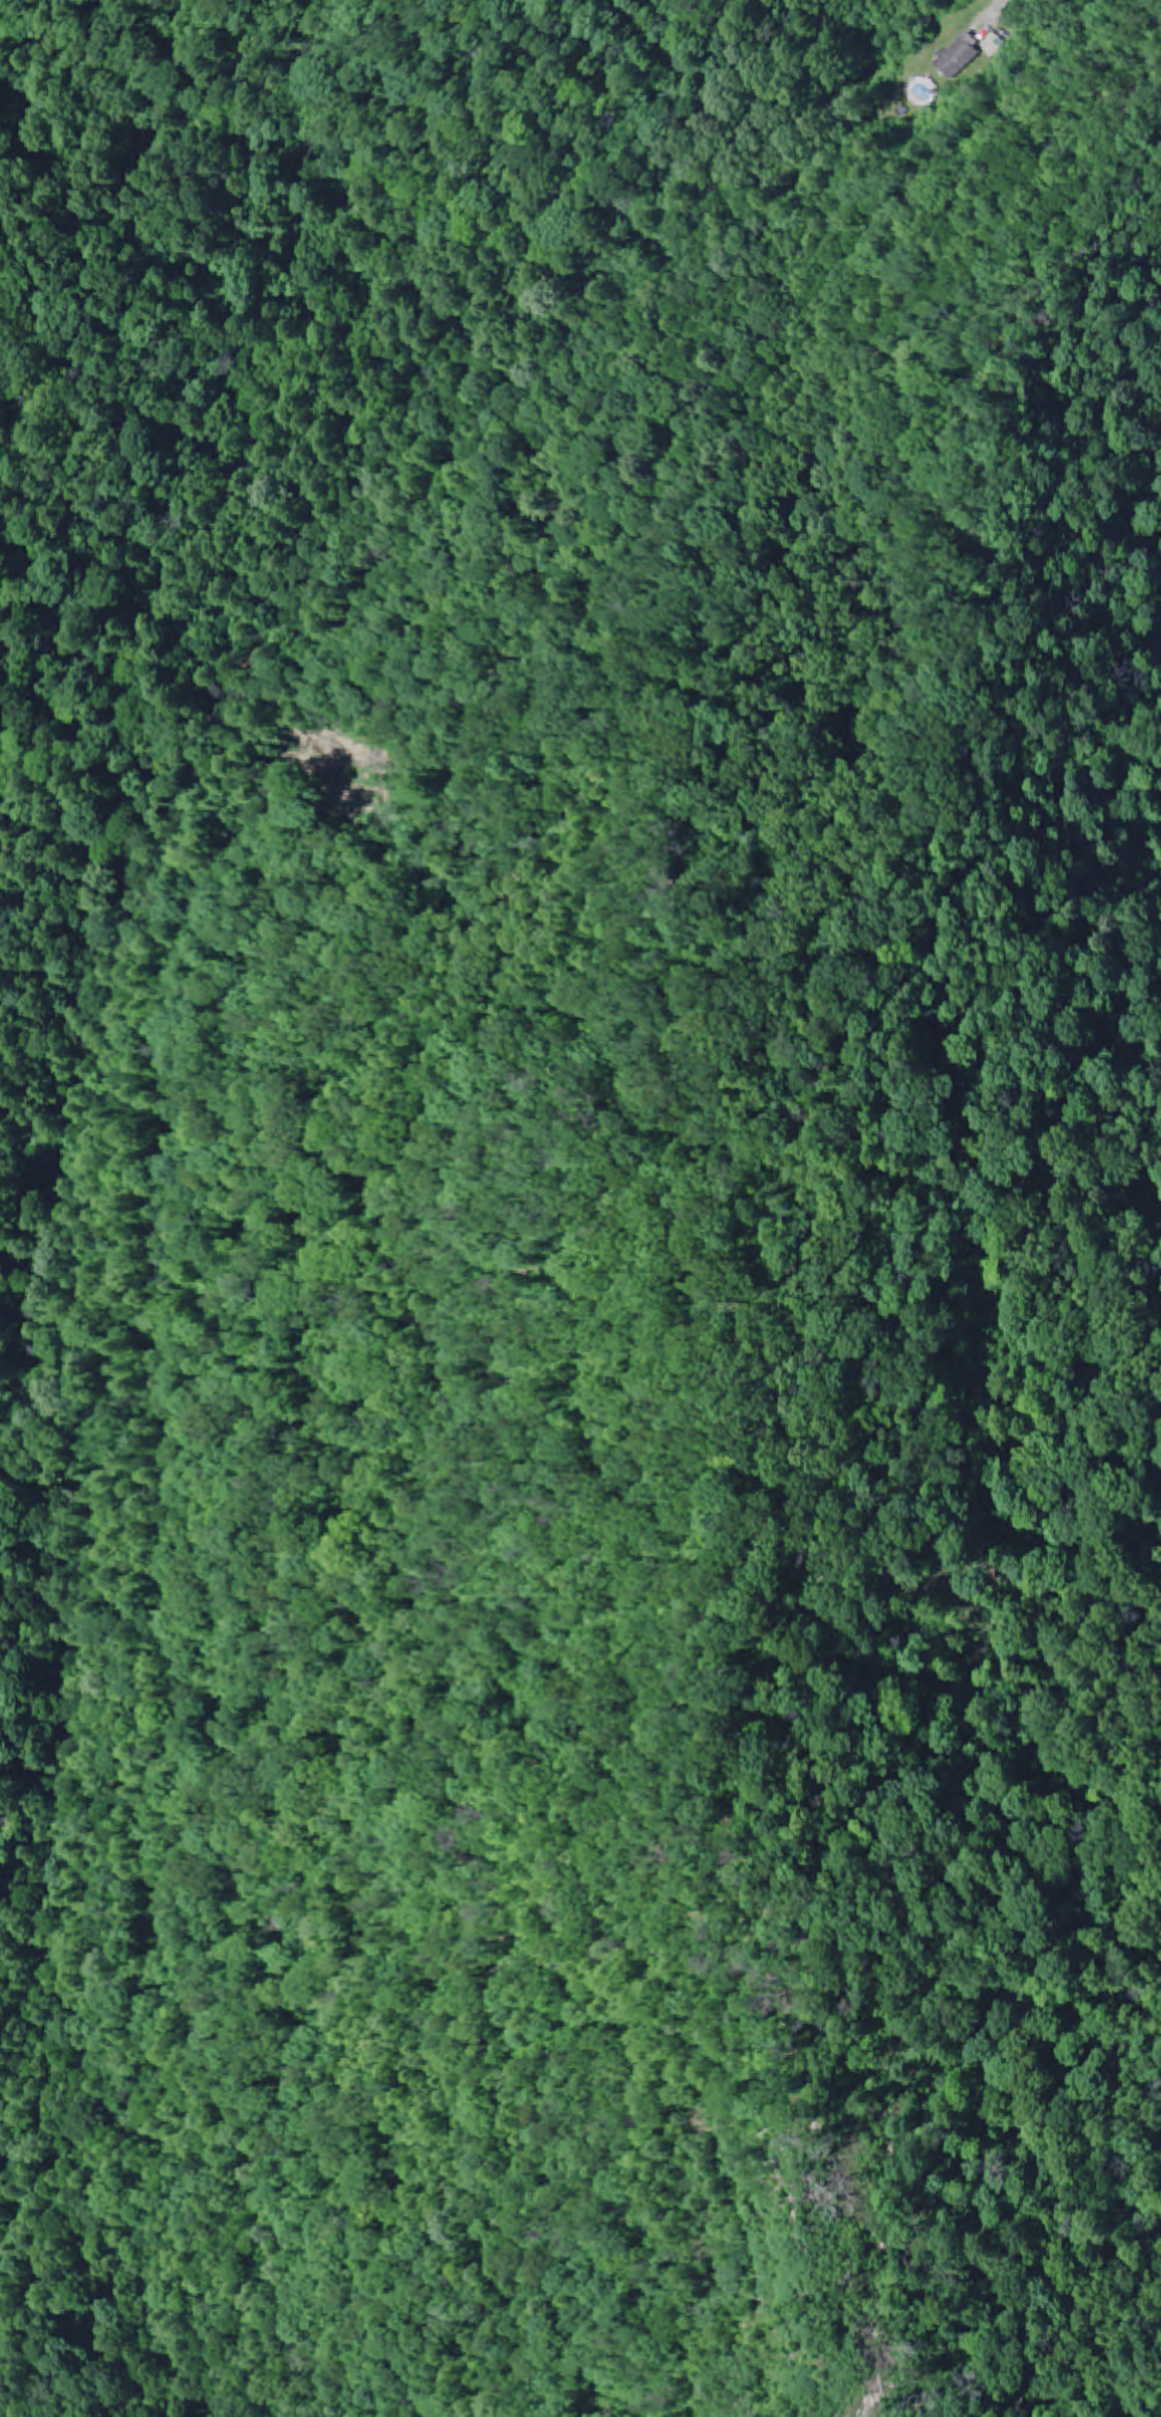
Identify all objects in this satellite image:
road: (983, 38)

